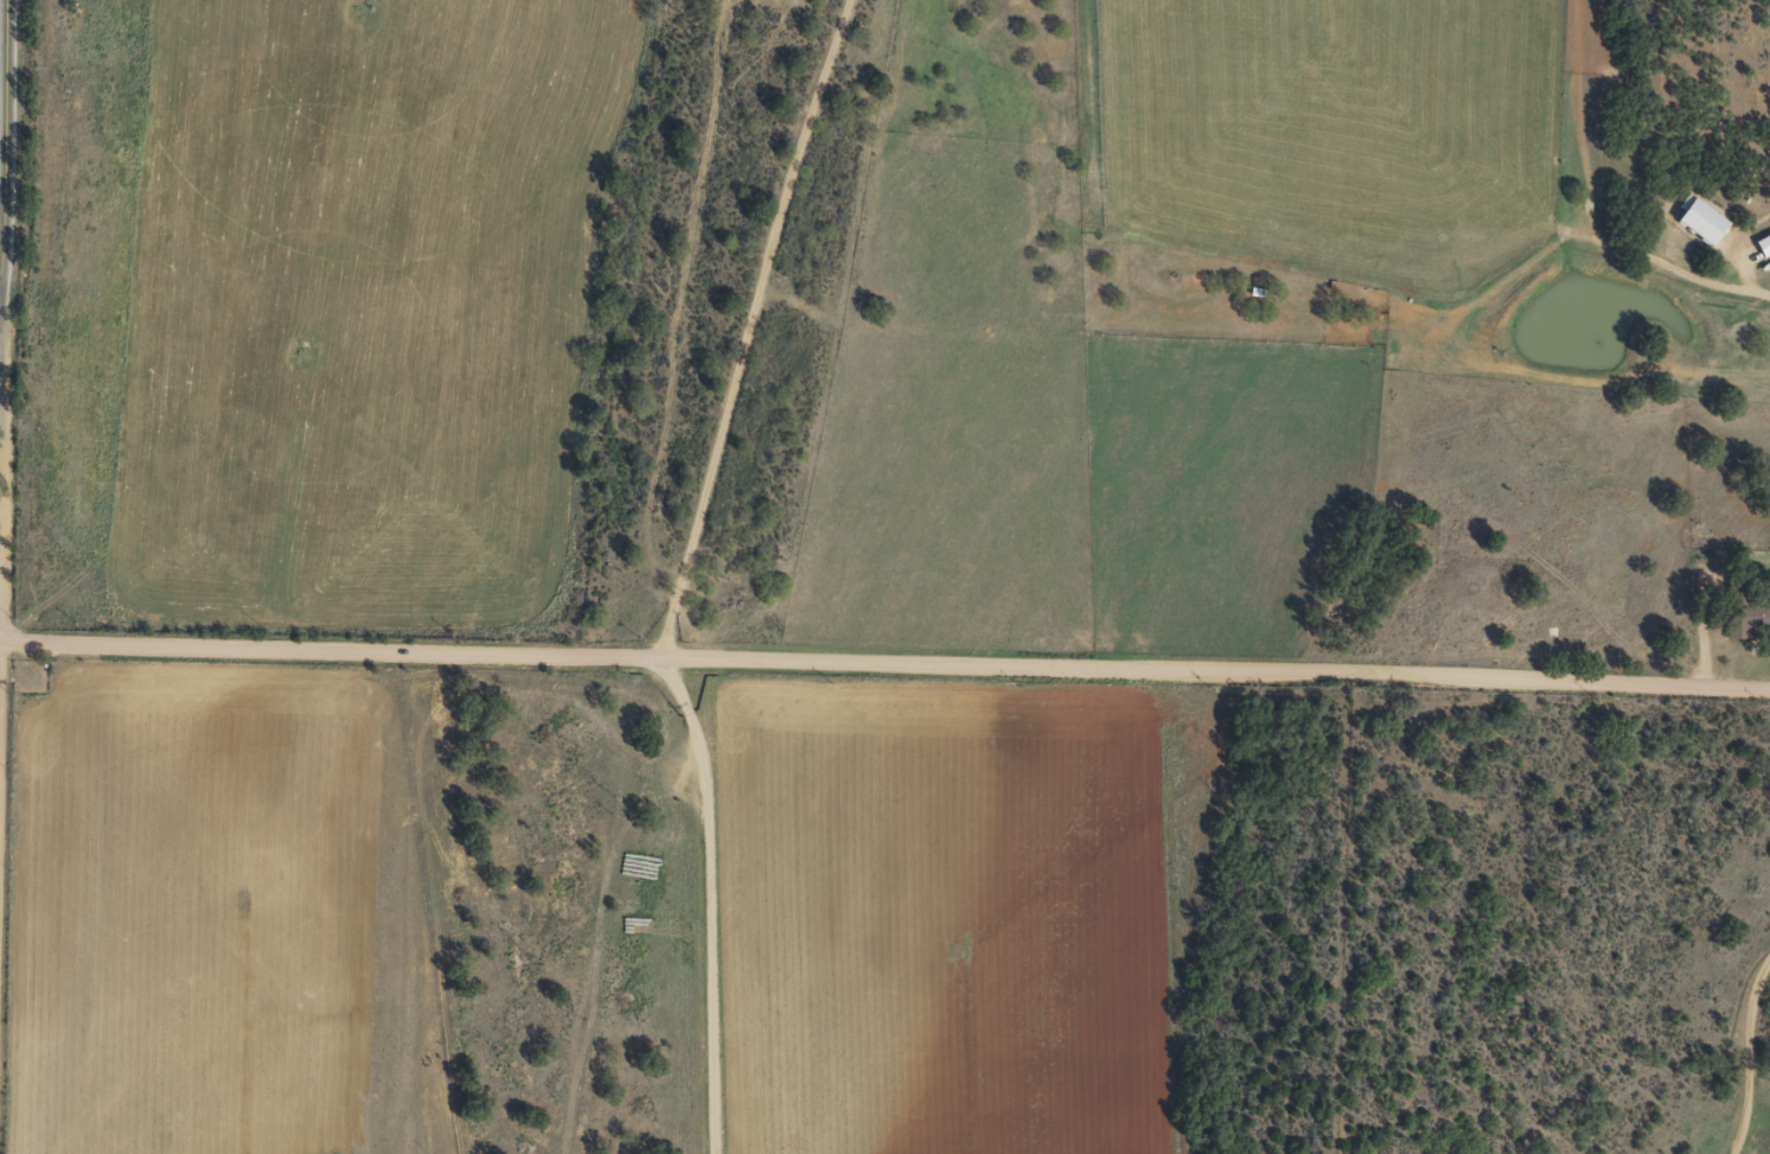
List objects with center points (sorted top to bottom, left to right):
road: (4, 133)
building: (1702, 219)
road: (55, 495)
road: (678, 566)
building: (1749, 620)
road: (23, 645)
road: (907, 669)
building: (28, 681)
road: (39, 900)

